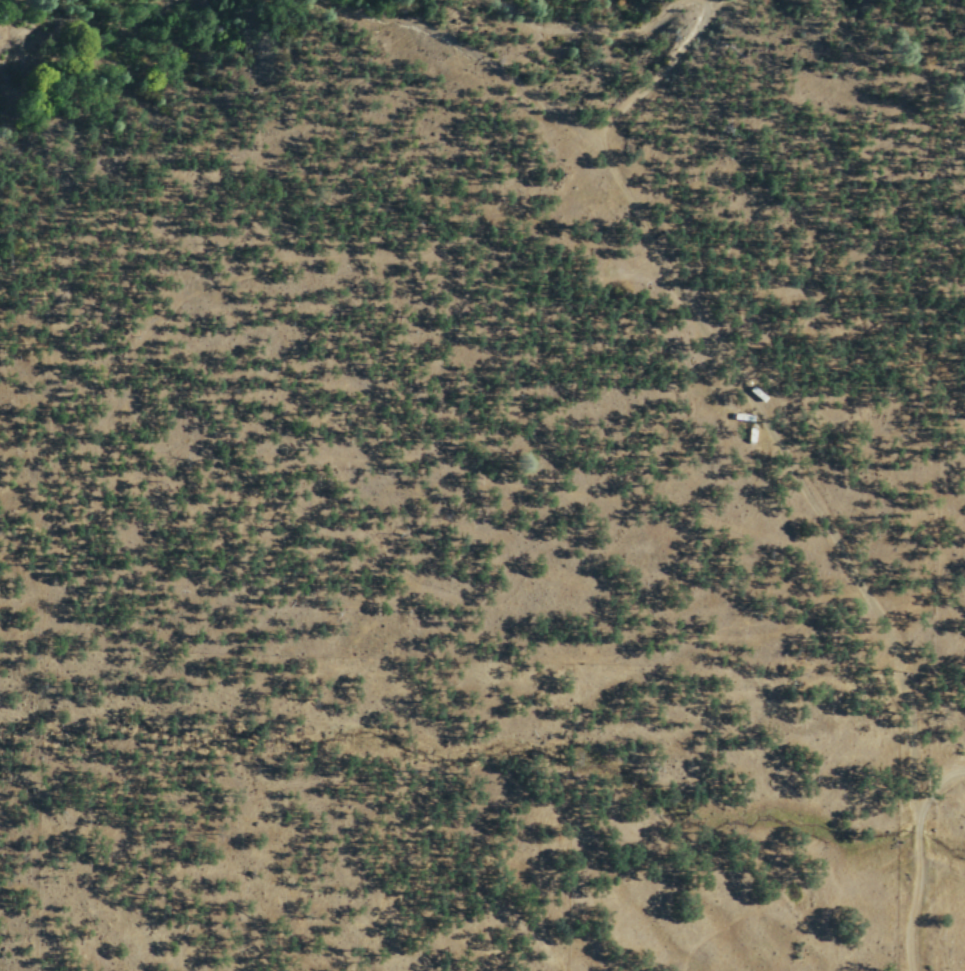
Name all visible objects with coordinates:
road: (925, 871)

